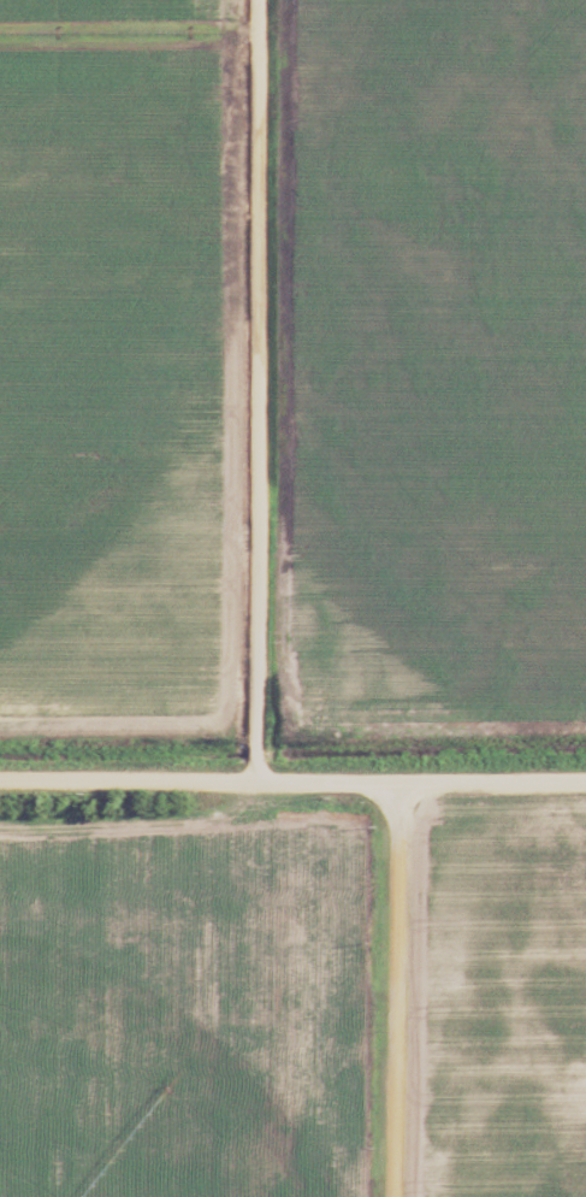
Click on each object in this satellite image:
road: (262, 393)
road: (292, 785)
road: (398, 991)

